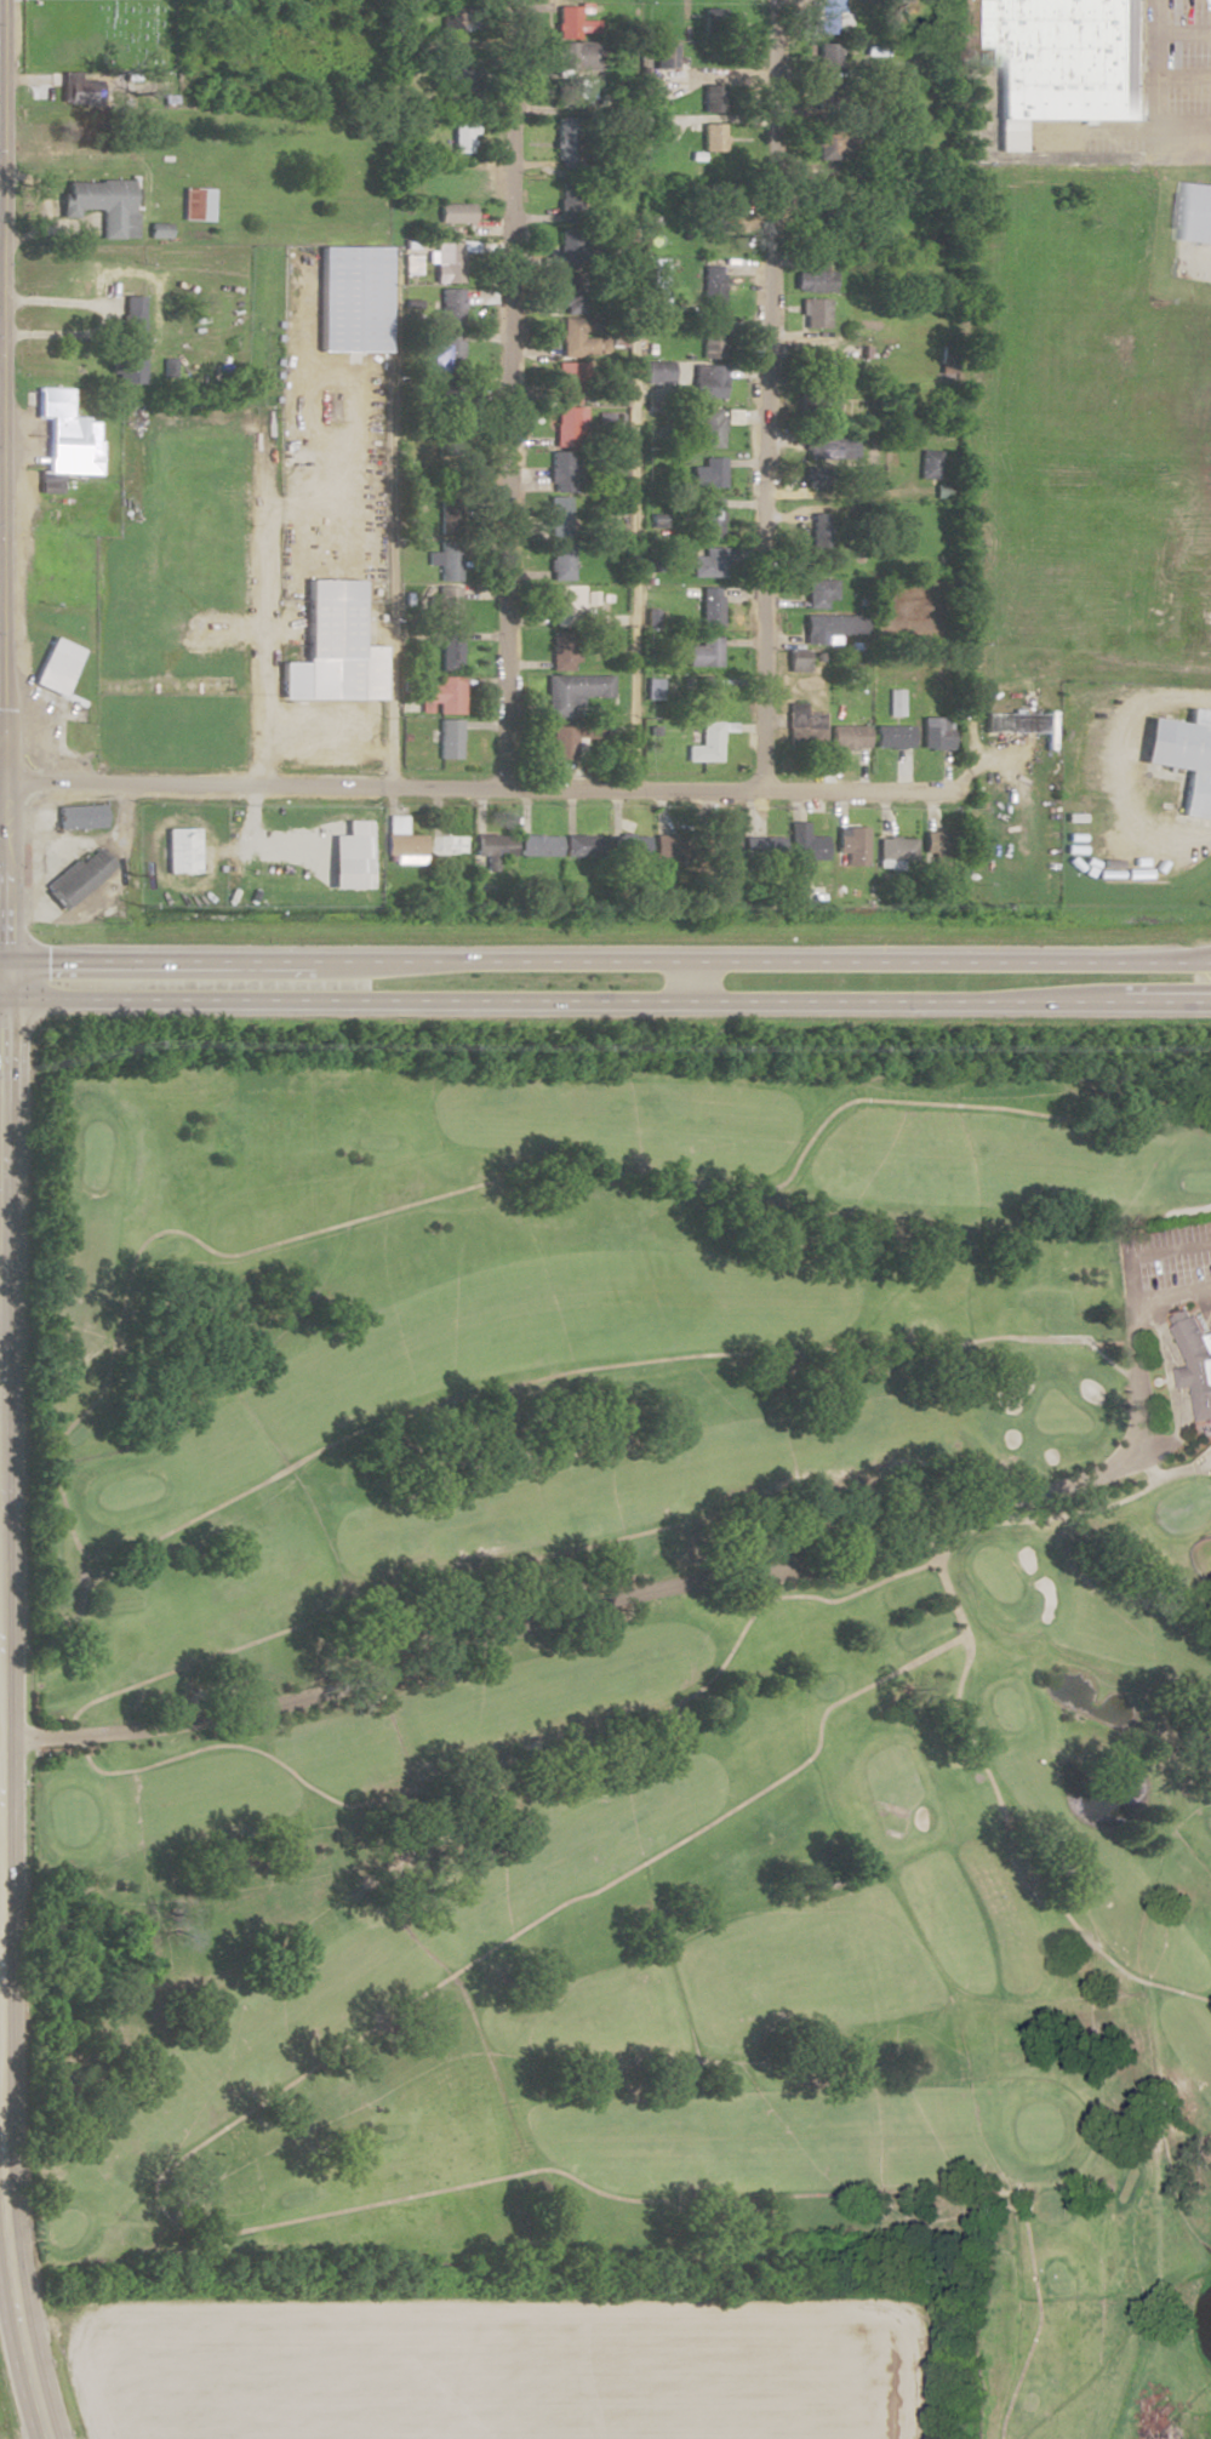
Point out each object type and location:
building: (829, 17)
building: (566, 22)
park: (97, 33)
building: (571, 55)
building: (662, 55)
building: (827, 58)
building: (1064, 61)
road: (1170, 68)
building: (455, 79)
building: (72, 87)
building: (566, 96)
building: (712, 98)
building: (463, 135)
road: (1125, 137)
building: (566, 141)
building: (823, 142)
building: (571, 193)
building: (190, 202)
building: (101, 204)
building: (452, 213)
building: (709, 219)
parking lot: (1178, 222)
building: (1198, 224)
building: (446, 262)
building: (571, 268)
building: (813, 279)
building: (712, 286)
building: (350, 298)
building: (815, 313)
building: (446, 331)
building: (576, 337)
building: (712, 338)
building: (130, 339)
building: (657, 372)
building: (708, 381)
building: (567, 382)
road: (498, 392)
road: (634, 393)
road: (762, 393)
road: (0, 419)
building: (569, 427)
building: (712, 428)
building: (67, 440)
building: (824, 445)
building: (561, 472)
building: (713, 473)
building: (816, 476)
building: (449, 516)
building: (559, 516)
building: (713, 518)
road: (253, 527)
building: (821, 531)
building: (446, 560)
building: (560, 561)
building: (706, 565)
building: (818, 594)
building: (572, 602)
building: (447, 605)
building: (709, 607)
building: (822, 628)
building: (332, 647)
building: (450, 651)
building: (562, 651)
building: (703, 652)
building: (57, 666)
building: (573, 692)
building: (445, 695)
building: (1013, 724)
building: (709, 727)
building: (804, 729)
building: (936, 733)
road: (0, 737)
building: (849, 737)
building: (893, 737)
building: (449, 738)
building: (570, 739)
building: (1183, 755)
road: (1118, 770)
road: (430, 783)
building: (81, 816)
building: (402, 840)
building: (668, 842)
building: (449, 844)
building: (538, 845)
building: (583, 845)
building: (802, 845)
building: (493, 846)
building: (632, 846)
building: (936, 847)
building: (724, 849)
building: (852, 849)
building: (893, 849)
building: (181, 850)
building: (76, 878)
road: (1183, 959)
road: (578, 963)
road: (1183, 965)
road: (605, 1004)
road: (0, 1213)
parking lot: (1165, 1233)
parking lot: (1175, 1269)
road: (1179, 1298)
parking lot: (1207, 1316)
building: (1195, 1361)
road: (97, 1378)
road: (1173, 1387)
road: (1171, 1473)
road: (1029, 1521)
road: (1146, 1565)
road: (504, 1570)
road: (704, 1578)
park: (630, 1677)
road: (515, 1763)
road: (0, 1798)
road: (1015, 1866)
road: (189, 2217)
crop: (521, 2361)

